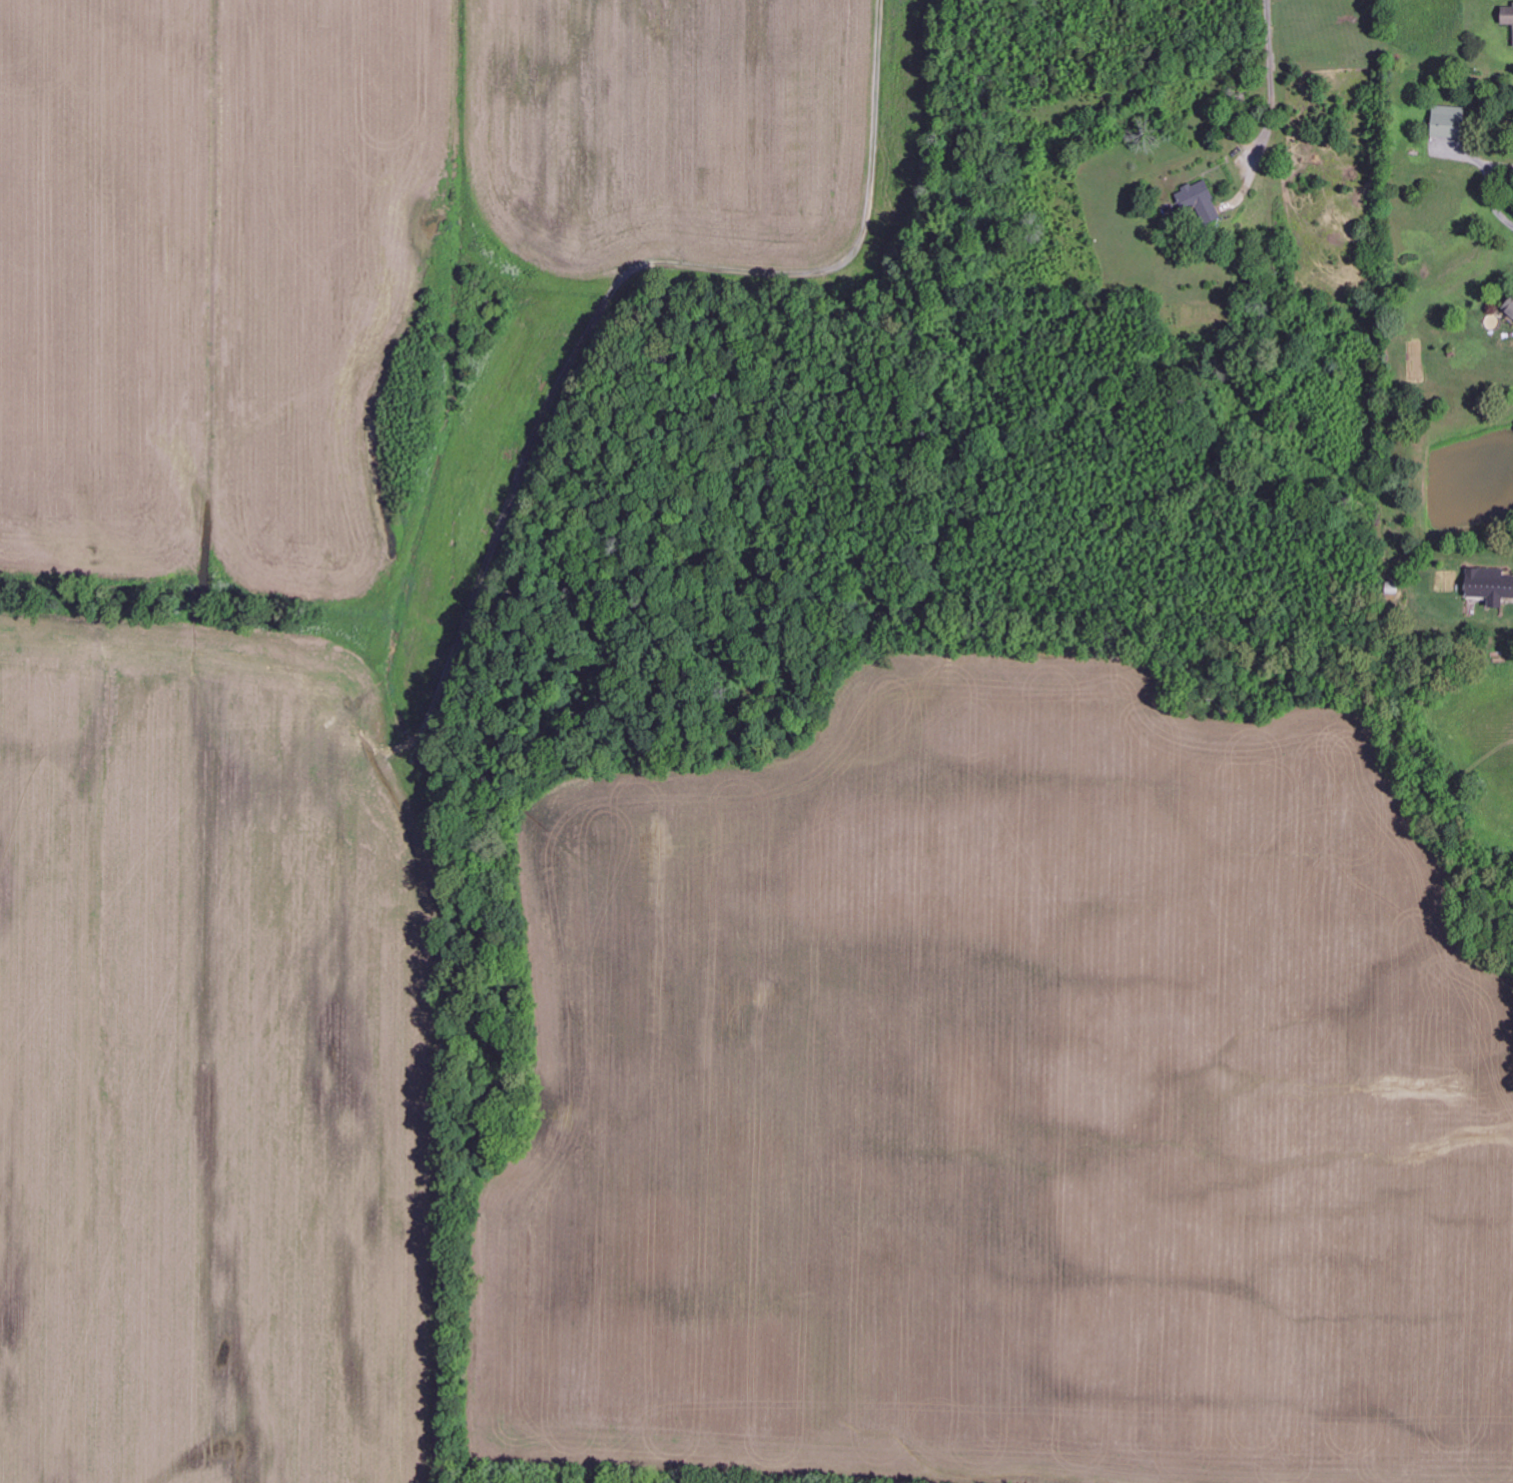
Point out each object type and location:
building: (1508, 15)
road: (1463, 81)
road: (1269, 89)
building: (1449, 121)
building: (1200, 201)
building: (1510, 311)
building: (1490, 586)

